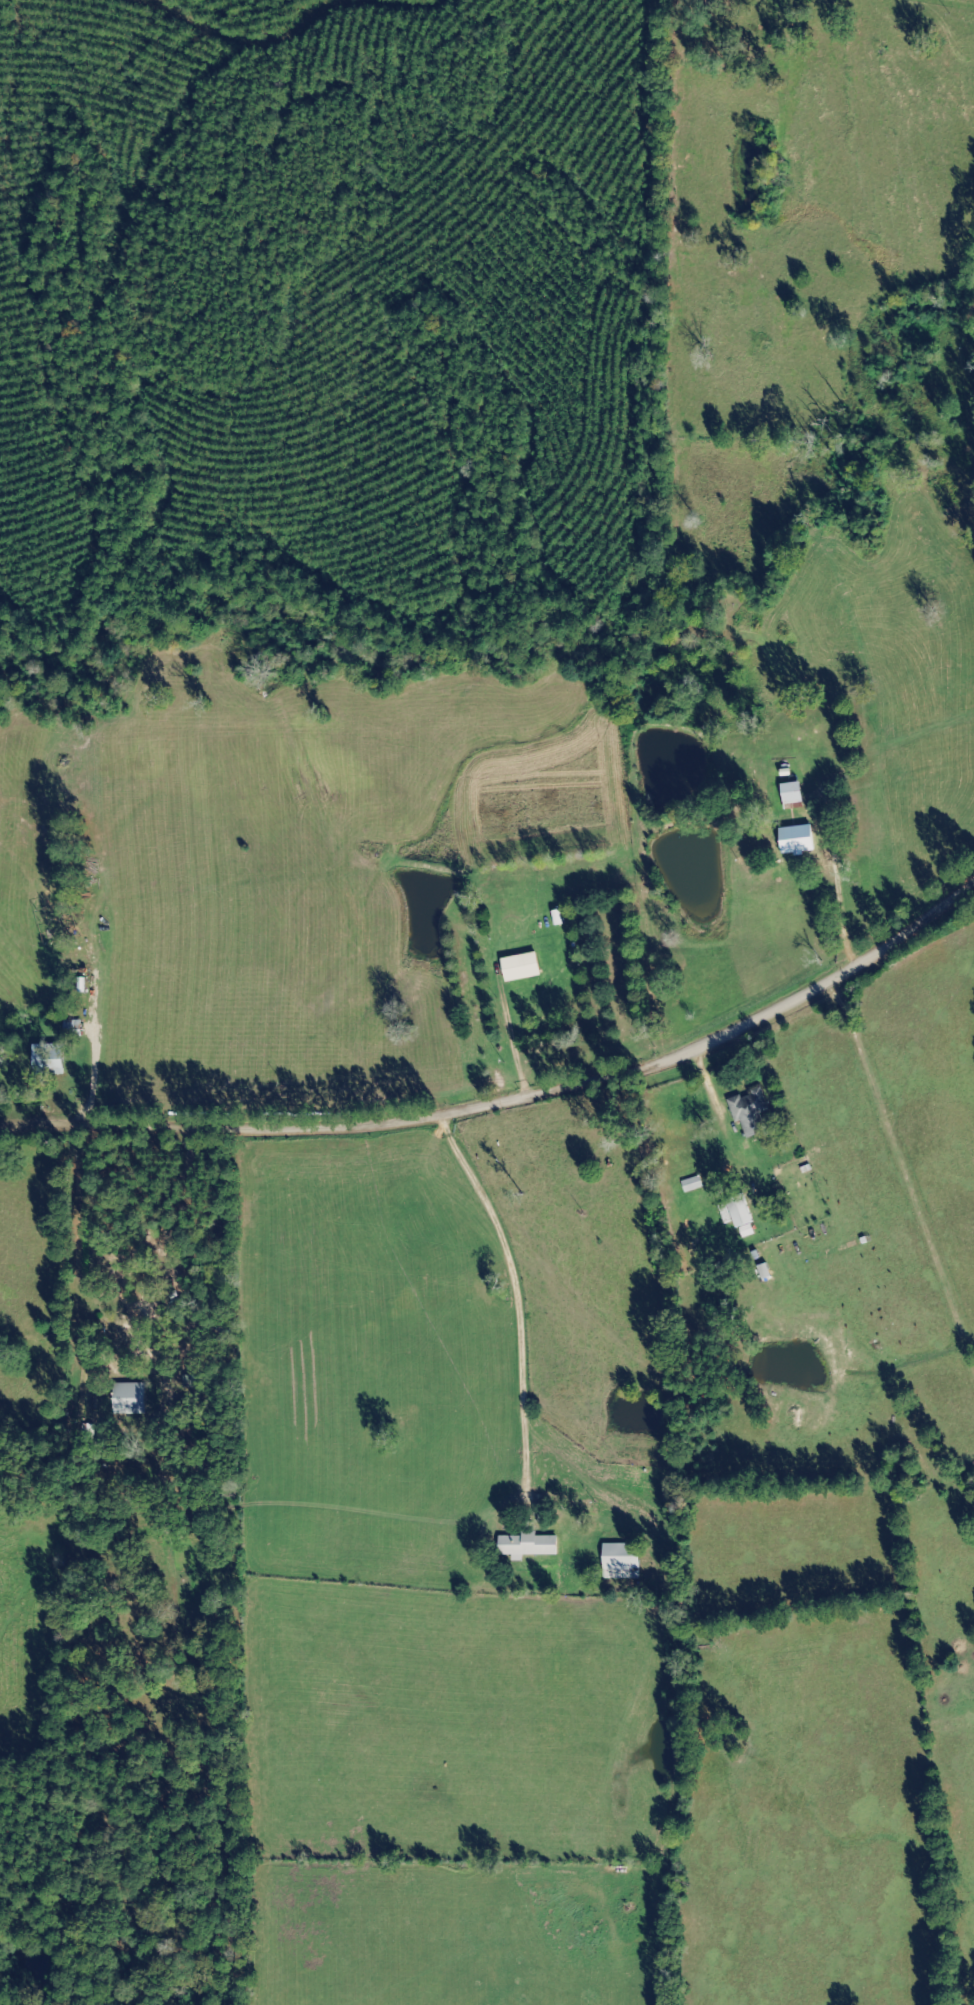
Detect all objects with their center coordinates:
building: (790, 793)
building: (791, 838)
building: (366, 854)
road: (842, 895)
building: (521, 966)
road: (509, 1037)
building: (48, 1059)
road: (514, 1100)
building: (749, 1111)
building: (690, 1183)
building: (737, 1214)
road: (592, 1340)
building: (193, 1380)
building: (129, 1398)
building: (527, 1545)
building: (621, 1560)

